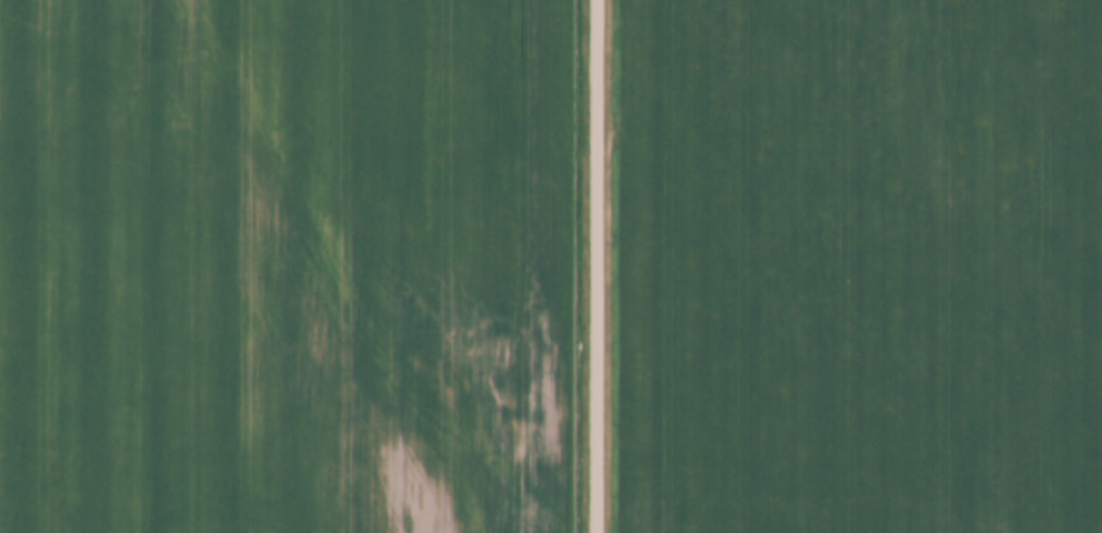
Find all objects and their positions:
road: (600, 266)

